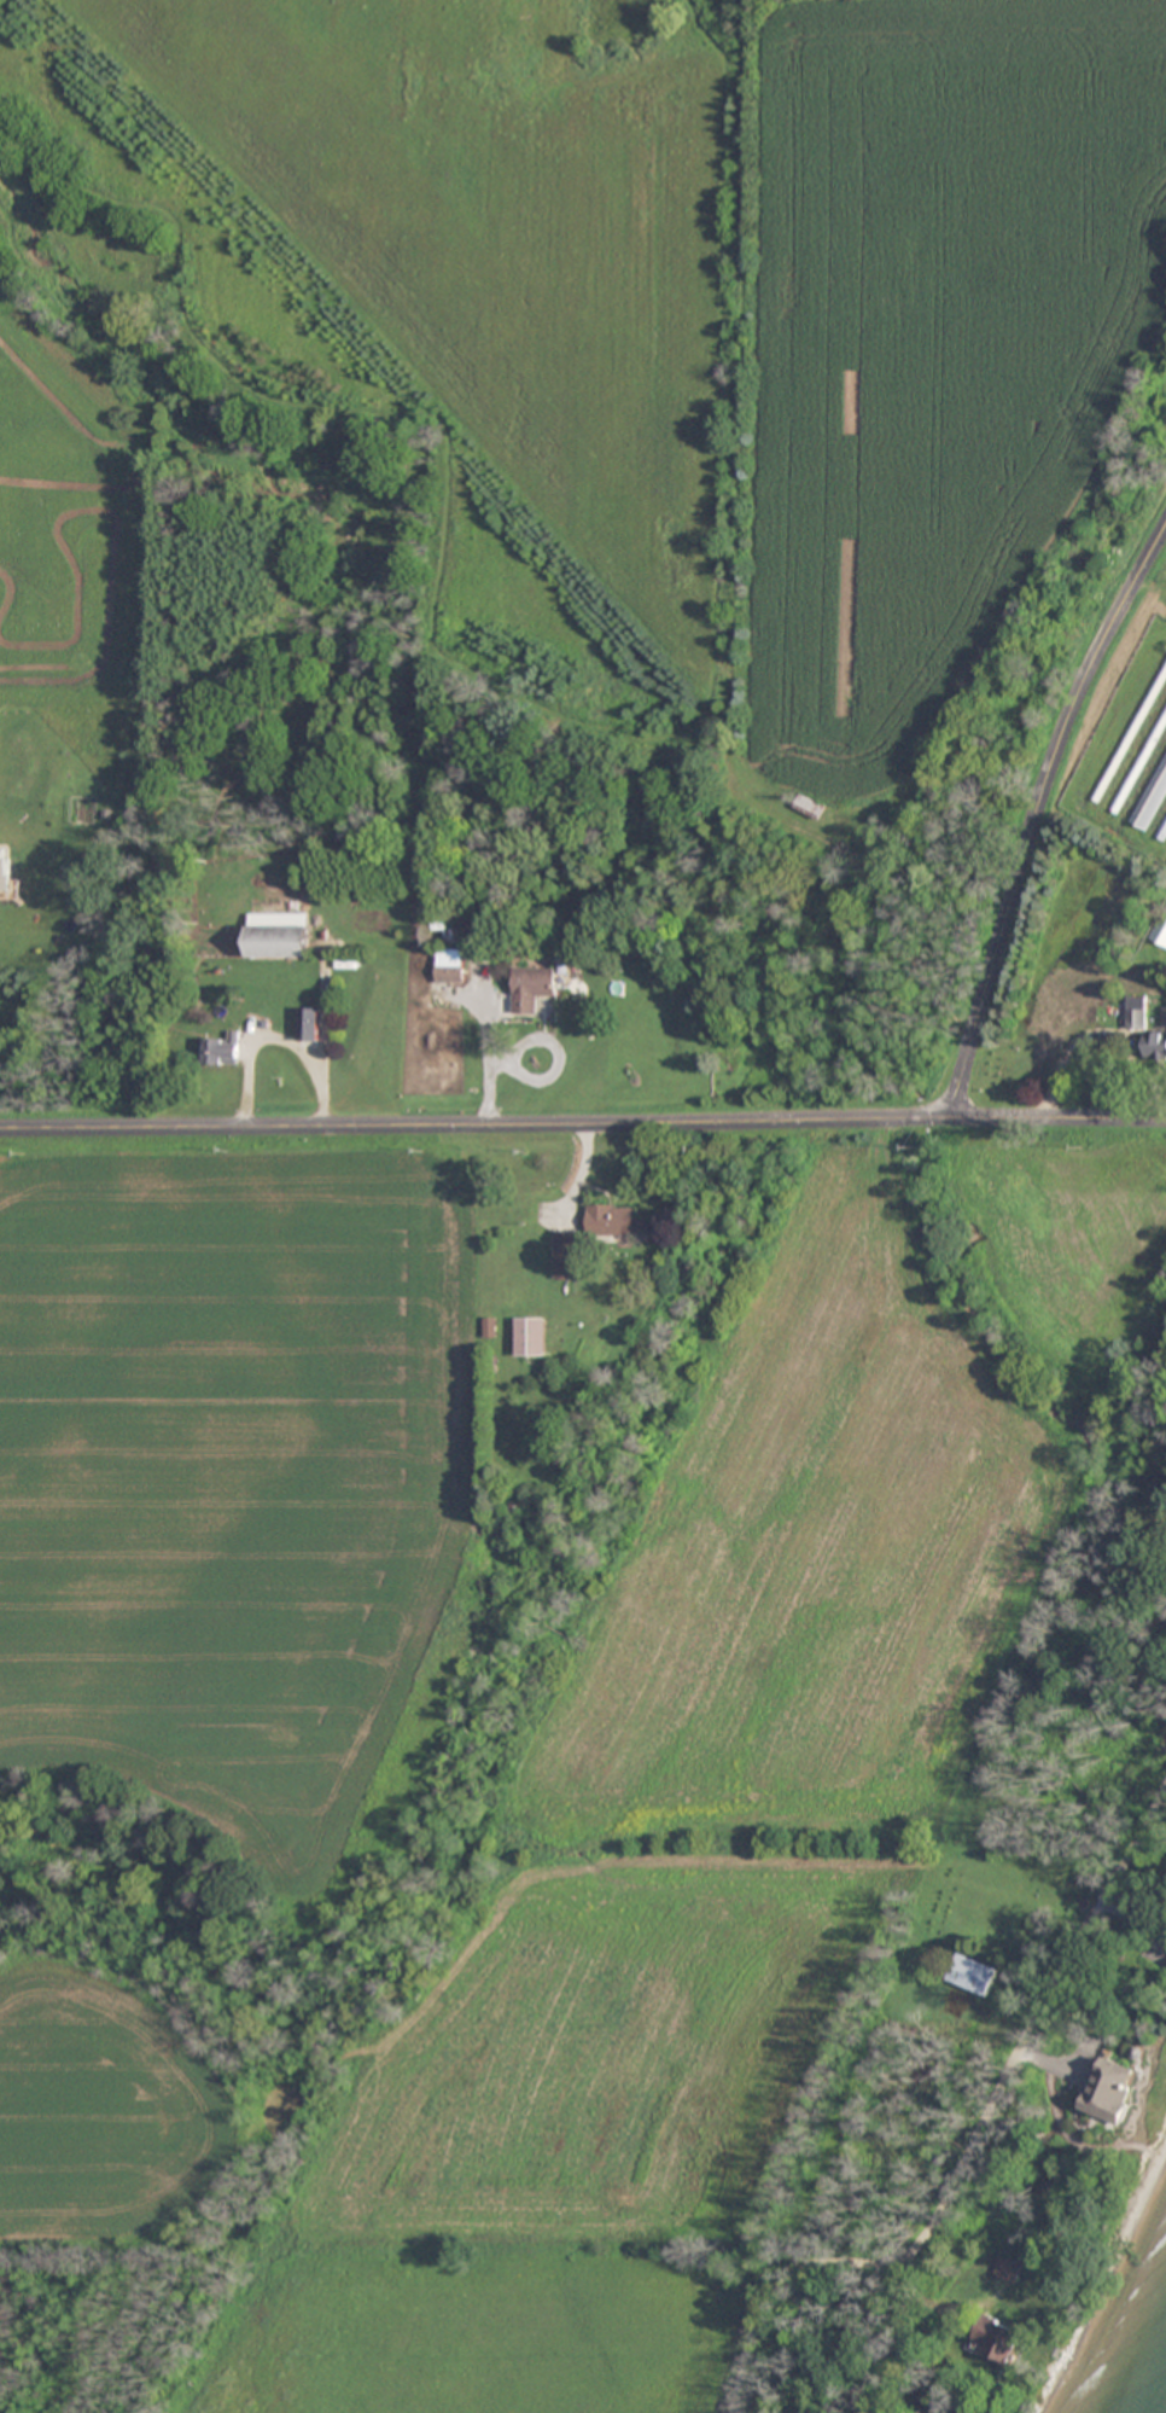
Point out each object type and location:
building: (1153, 798)
building: (812, 806)
road: (1036, 807)
building: (281, 941)
building: (451, 970)
building: (534, 988)
building: (1136, 1011)
building: (1165, 1016)
building: (1155, 1045)
building: (223, 1051)
road: (583, 1122)
building: (617, 1221)
building: (566, 1256)
building: (532, 1337)
building: (973, 1973)
building: (1113, 2089)
road: (974, 2139)
building: (998, 2342)

